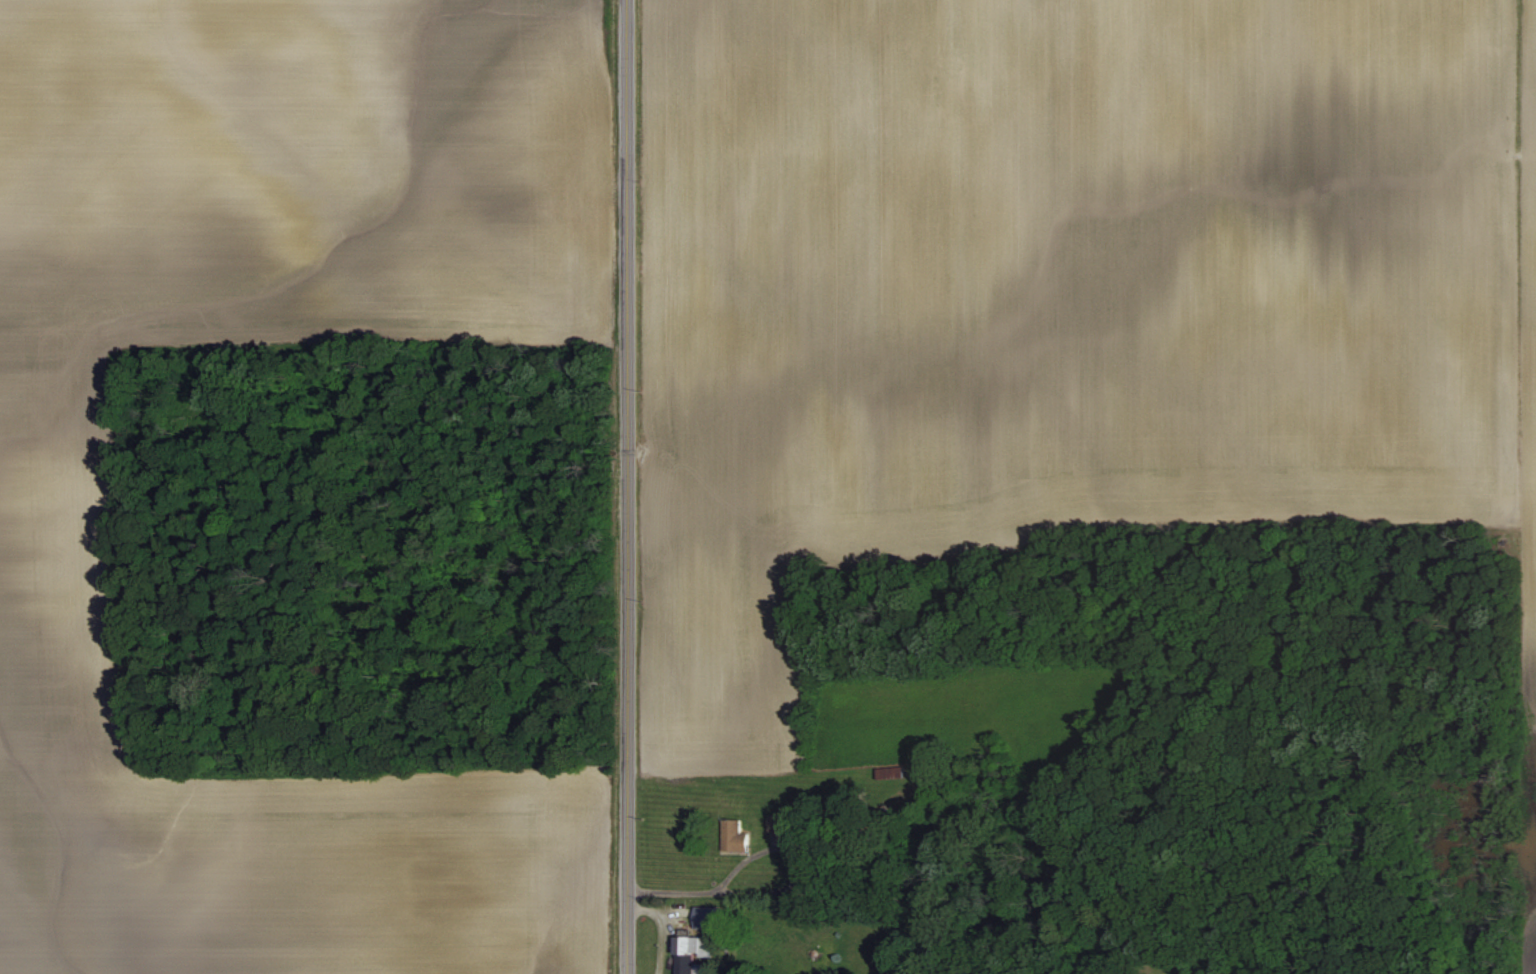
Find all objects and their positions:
road: (625, 487)
building: (733, 837)
building: (689, 954)

